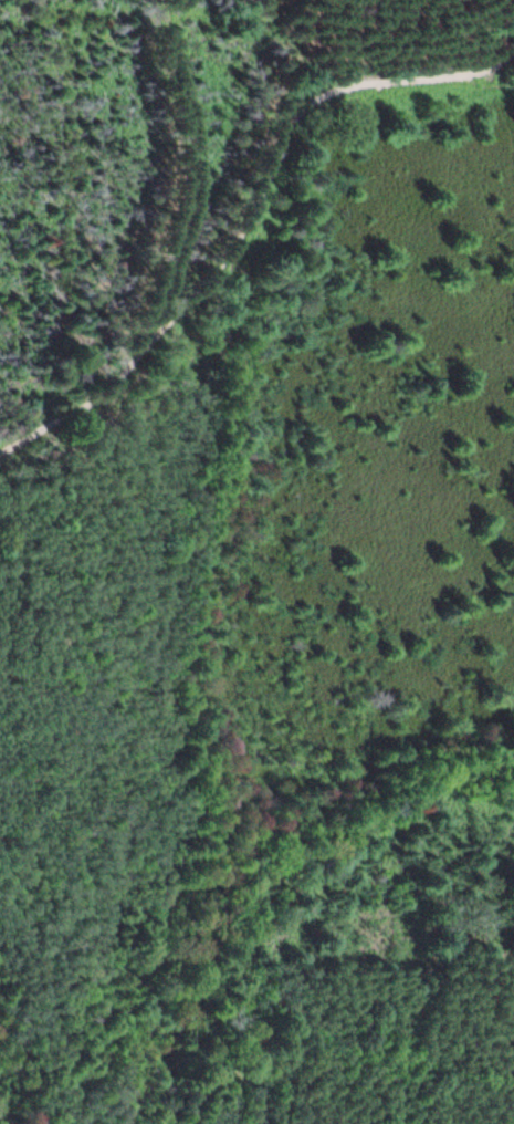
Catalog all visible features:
road: (249, 219)

